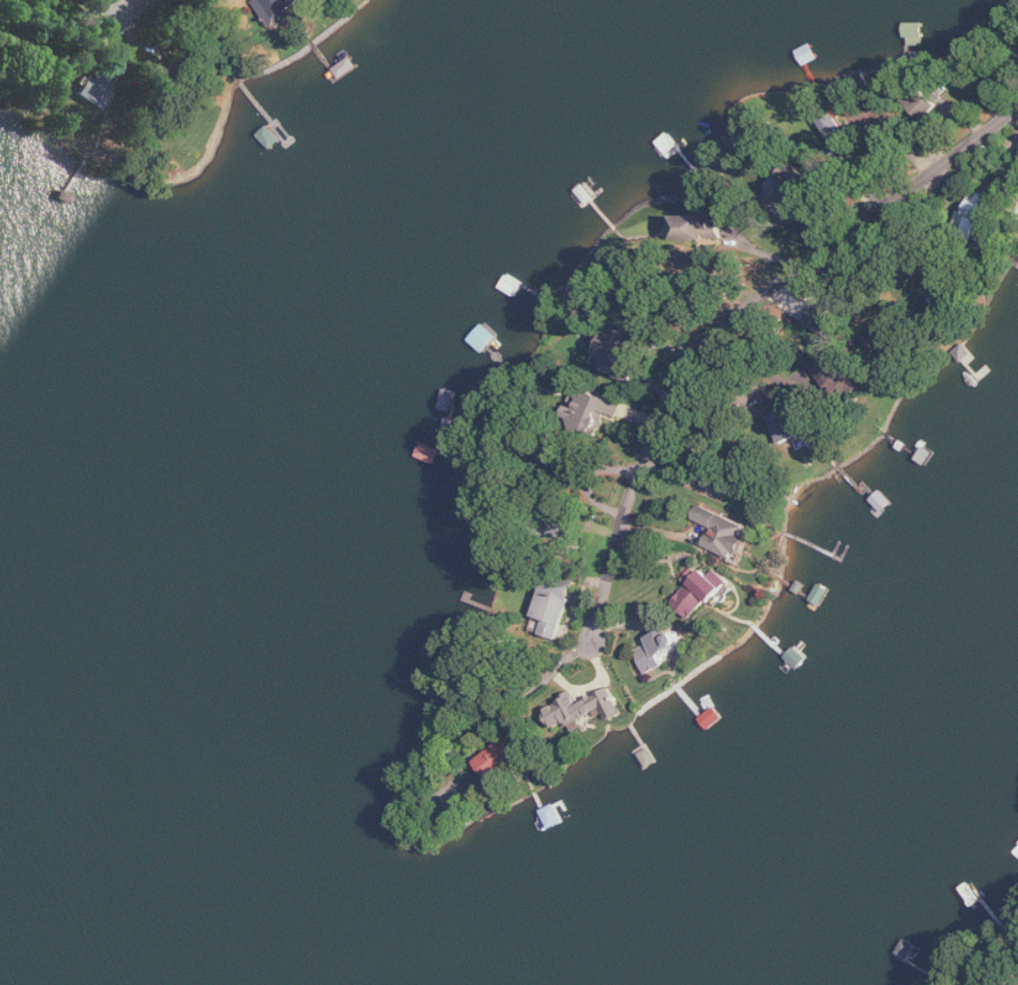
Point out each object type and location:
road: (128, 7)
building: (278, 8)
building: (93, 89)
building: (790, 189)
building: (974, 217)
building: (699, 228)
building: (940, 280)
road: (733, 318)
building: (826, 321)
building: (617, 355)
road: (760, 369)
building: (788, 424)
building: (562, 457)
building: (744, 478)
building: (564, 529)
building: (725, 531)
building: (700, 592)
building: (554, 608)
building: (659, 649)
building: (585, 708)
building: (506, 753)

